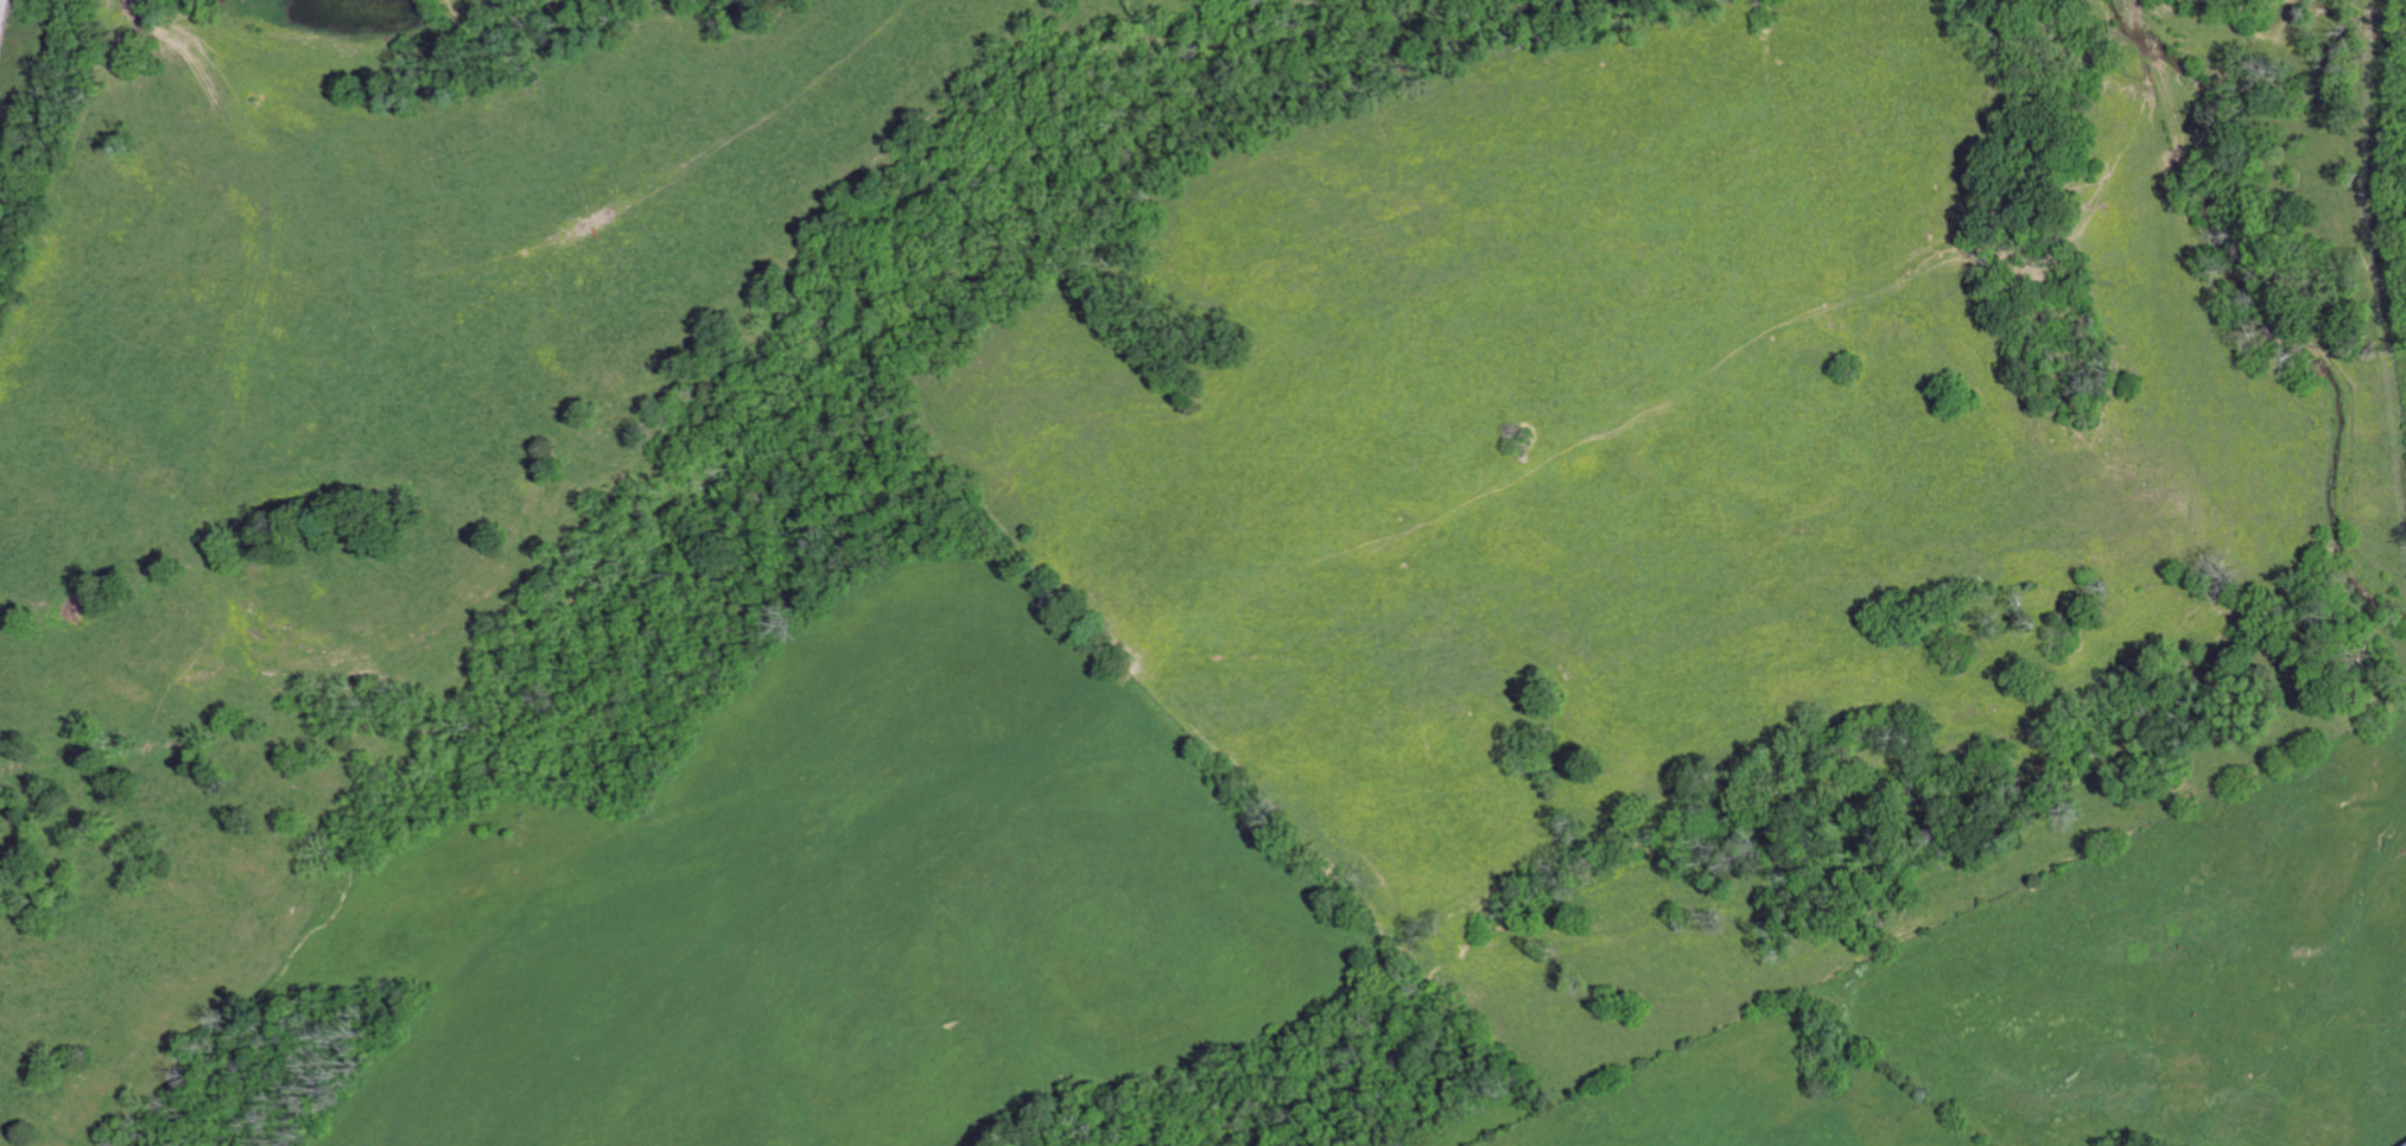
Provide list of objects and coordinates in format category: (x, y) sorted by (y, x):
road: (2, 17)

